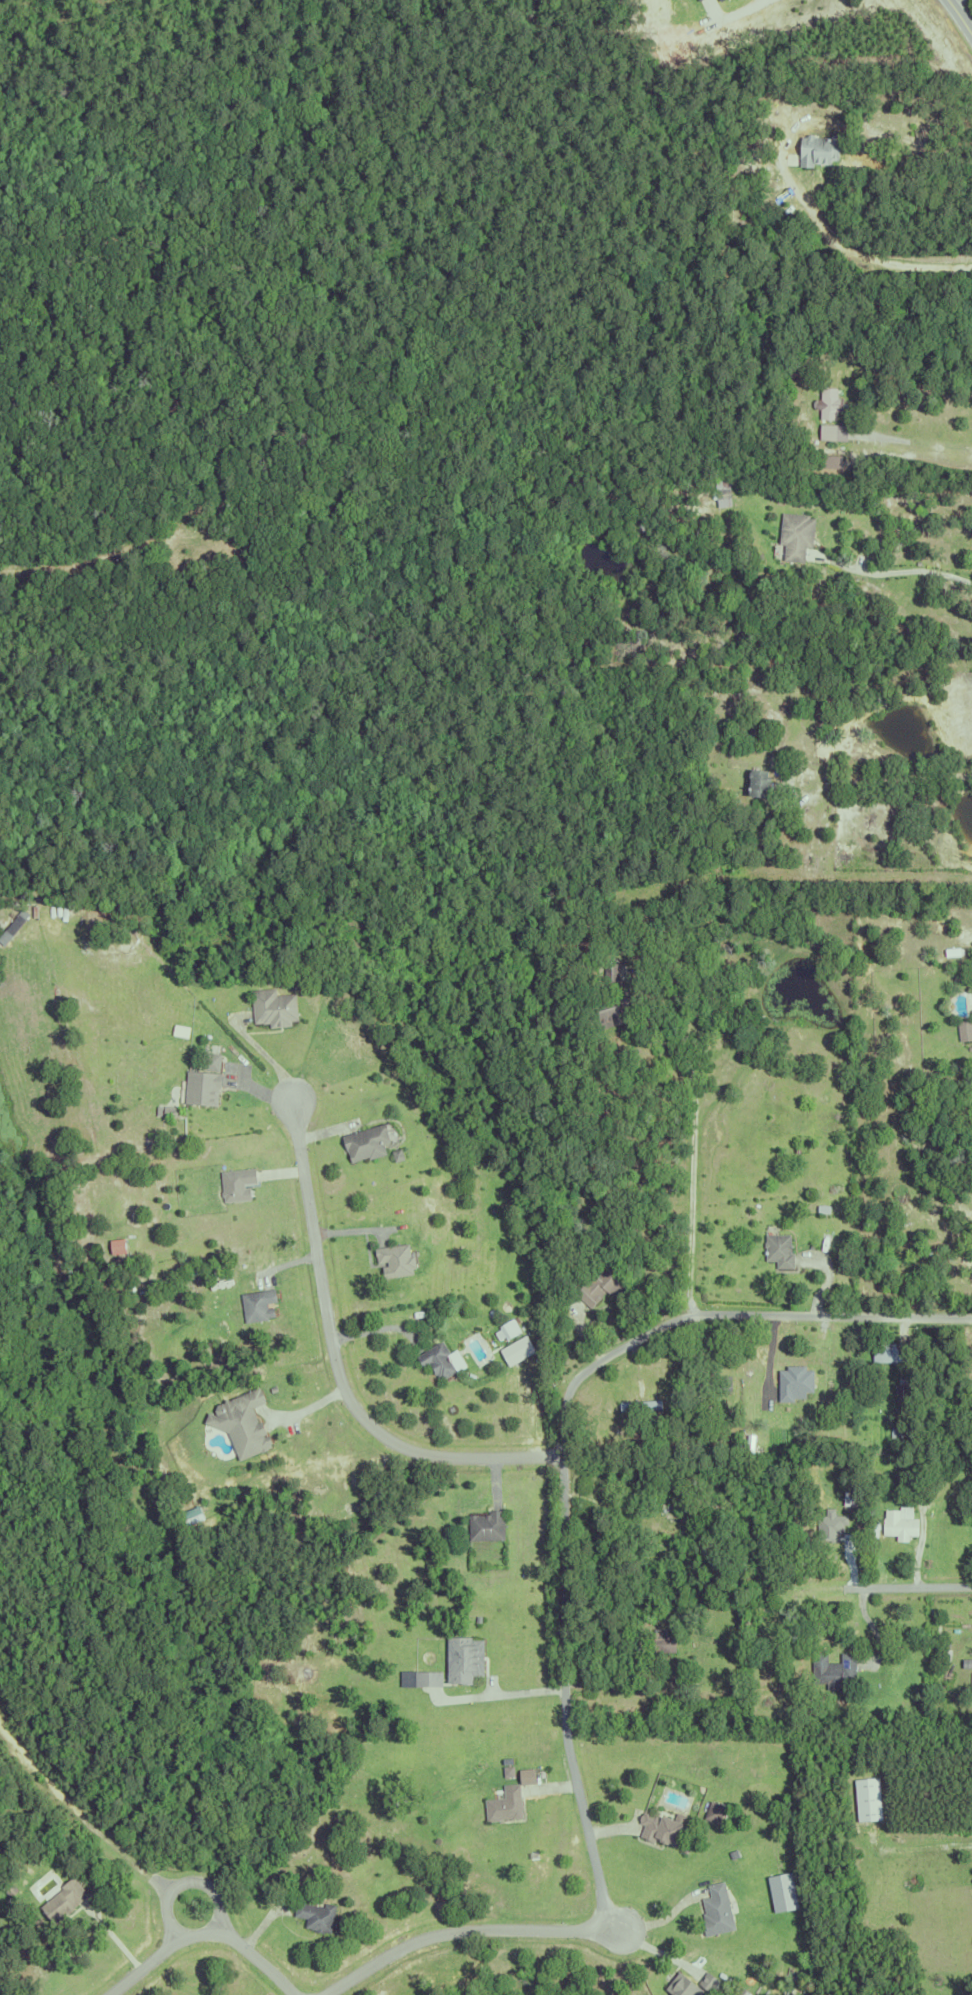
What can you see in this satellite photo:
building: (703, 0)
building: (725, 0)
road: (955, 3)
road: (753, 5)
road: (960, 16)
building: (880, 108)
building: (773, 139)
building: (895, 141)
building: (817, 149)
road: (865, 262)
building: (829, 416)
building: (882, 444)
road: (938, 450)
building: (722, 492)
building: (793, 536)
road: (55, 565)
road: (897, 570)
building: (706, 684)
building: (744, 745)
road: (866, 779)
building: (757, 786)
building: (888, 860)
road: (863, 876)
building: (16, 928)
building: (609, 939)
building: (610, 968)
building: (272, 1003)
building: (607, 1005)
building: (963, 1026)
building: (201, 1083)
building: (166, 1107)
building: (175, 1111)
building: (371, 1142)
road: (692, 1153)
building: (934, 1165)
building: (236, 1180)
building: (821, 1206)
building: (566, 1236)
building: (120, 1246)
building: (777, 1247)
building: (394, 1256)
building: (941, 1262)
building: (877, 1263)
building: (921, 1274)
building: (599, 1281)
building: (256, 1301)
building: (509, 1331)
building: (886, 1350)
building: (520, 1351)
building: (436, 1356)
road: (333, 1370)
building: (792, 1371)
building: (721, 1380)
building: (900, 1388)
building: (905, 1391)
building: (638, 1401)
building: (903, 1410)
building: (246, 1423)
building: (788, 1432)
building: (724, 1439)
road: (565, 1452)
building: (916, 1473)
building: (690, 1486)
building: (719, 1494)
building: (851, 1495)
building: (662, 1501)
building: (830, 1518)
building: (898, 1520)
building: (485, 1523)
road: (897, 1589)
building: (764, 1605)
building: (662, 1638)
building: (537, 1648)
building: (772, 1653)
building: (462, 1656)
building: (968, 1663)
building: (832, 1667)
building: (427, 1676)
building: (971, 1682)
road: (503, 1693)
building: (834, 1700)
building: (675, 1759)
building: (535, 1778)
building: (872, 1799)
building: (503, 1802)
building: (716, 1812)
building: (659, 1825)
road: (927, 1847)
building: (9, 1887)
building: (63, 1898)
building: (721, 1910)
building: (320, 1917)
road: (457, 1929)
road: (158, 1952)
road: (258, 1957)
building: (970, 1972)
building: (693, 1985)
building: (958, 1986)

